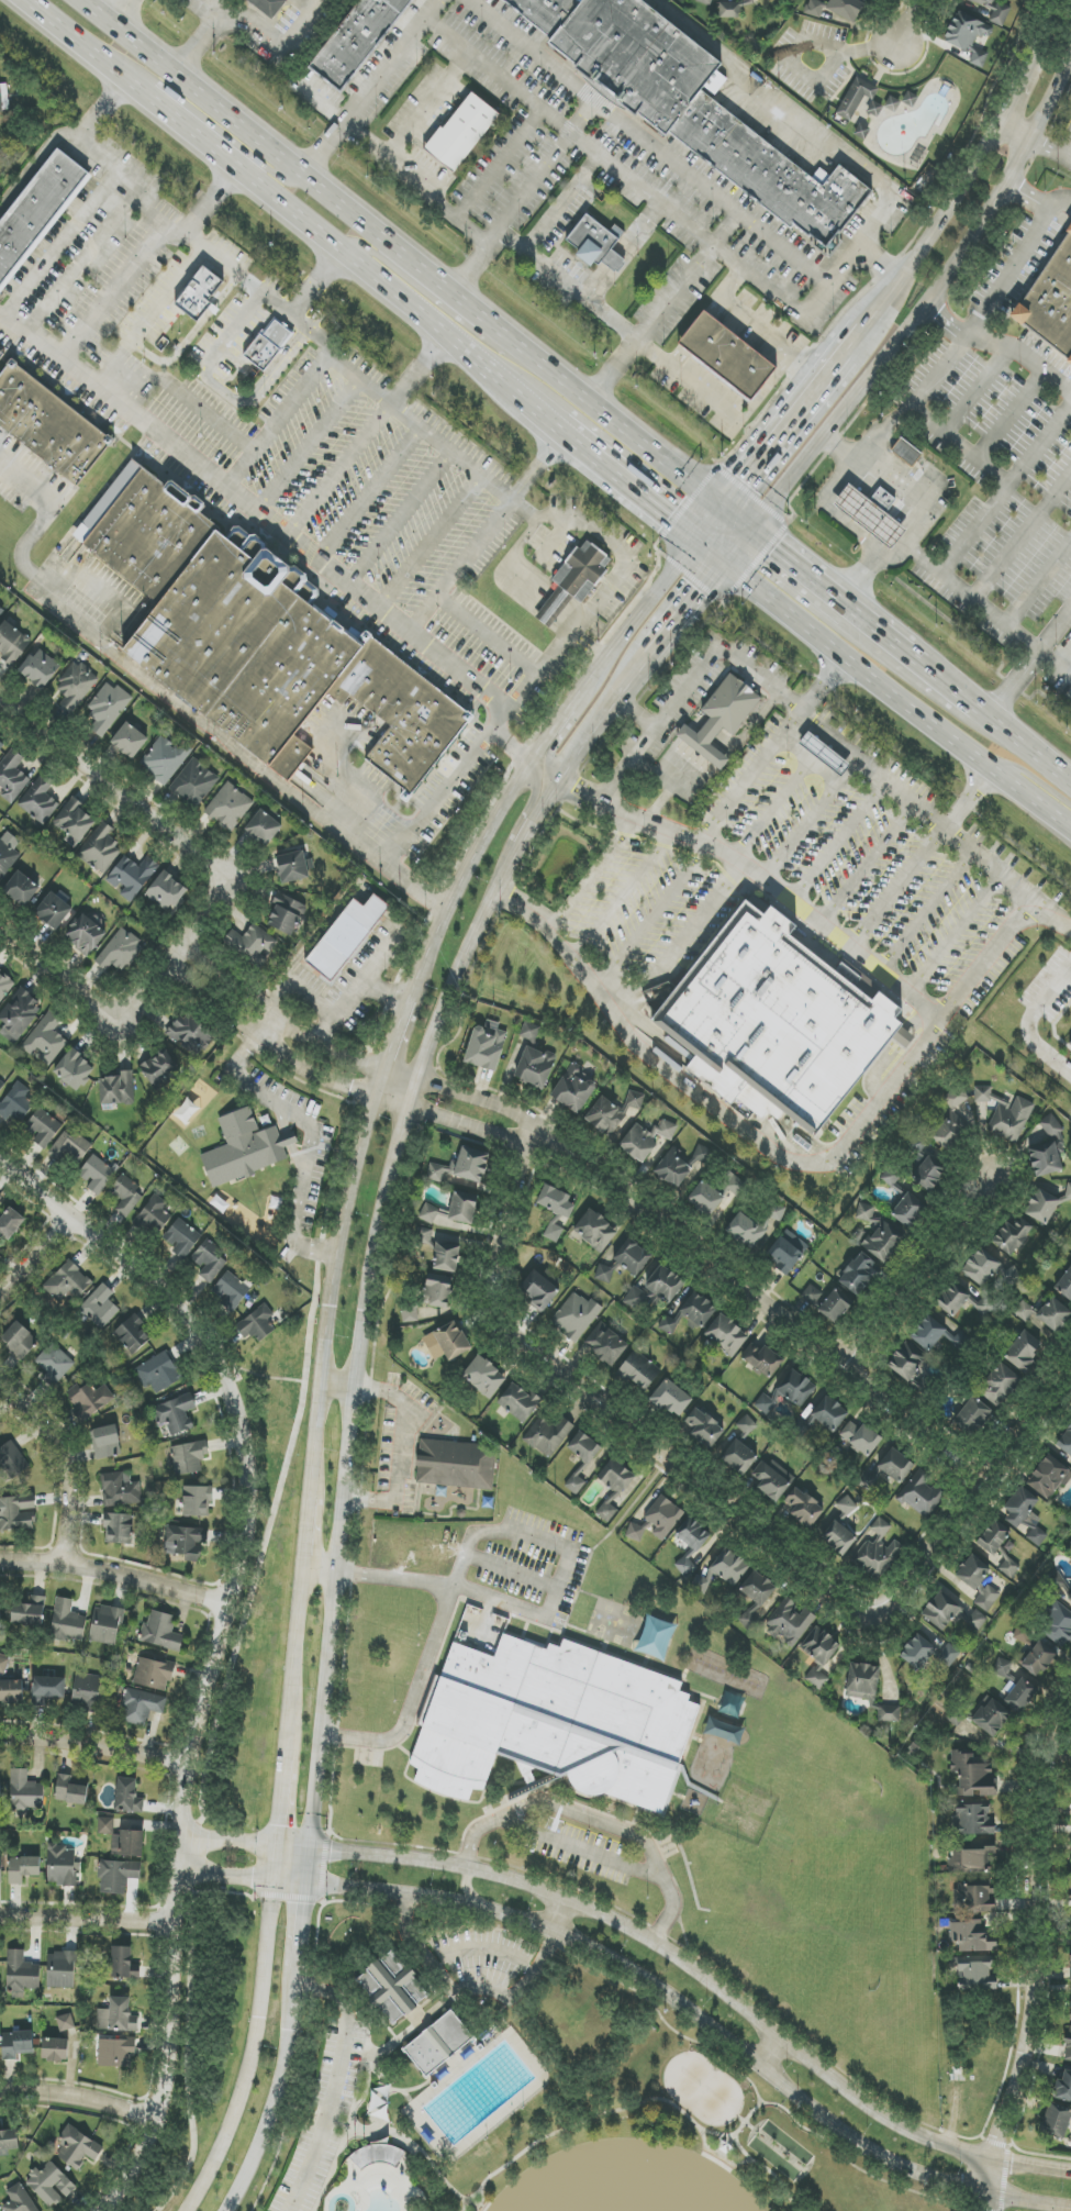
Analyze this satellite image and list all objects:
building: (704, 2)
road: (221, 5)
building: (271, 7)
building: (733, 8)
building: (814, 8)
building: (847, 9)
building: (994, 11)
road: (125, 13)
road: (246, 24)
road: (904, 25)
building: (964, 31)
road: (1053, 31)
building: (359, 40)
road: (802, 43)
road: (83, 47)
building: (979, 58)
road: (370, 87)
road: (1024, 93)
building: (857, 97)
building: (4, 98)
building: (891, 102)
road: (427, 107)
building: (692, 107)
road: (582, 115)
road: (179, 123)
road: (819, 132)
building: (862, 132)
building: (464, 133)
road: (250, 134)
road: (1022, 134)
road: (648, 142)
building: (0, 143)
road: (584, 143)
road: (1057, 151)
road: (1068, 155)
road: (500, 164)
road: (260, 168)
road: (533, 189)
road: (96, 196)
road: (153, 198)
road: (1061, 201)
road: (439, 203)
road: (562, 203)
building: (38, 215)
road: (726, 229)
road: (642, 231)
road: (939, 231)
road: (331, 242)
building: (594, 243)
road: (1022, 252)
road: (379, 256)
road: (241, 269)
road: (743, 271)
road: (566, 284)
road: (118, 285)
road: (599, 285)
road: (453, 293)
road: (677, 293)
building: (200, 295)
building: (1050, 300)
road: (925, 313)
road: (149, 314)
road: (192, 335)
road: (1003, 345)
building: (268, 348)
building: (726, 351)
building: (1, 356)
road: (477, 360)
road: (692, 387)
road: (222, 390)
road: (974, 390)
road: (375, 391)
road: (113, 402)
road: (534, 409)
road: (605, 413)
road: (902, 413)
road: (1008, 415)
road: (795, 421)
building: (49, 427)
road: (1039, 445)
building: (907, 454)
road: (338, 470)
road: (483, 480)
road: (1002, 481)
traffic signals: (745, 482)
road: (628, 487)
road: (942, 500)
road: (247, 504)
building: (852, 504)
gas station: (852, 504)
building: (875, 513)
road: (1037, 518)
traffic signals: (668, 519)
road: (738, 520)
road: (711, 525)
building: (147, 530)
road: (854, 530)
building: (890, 534)
gas station: (890, 534)
road: (1022, 535)
road: (739, 548)
traffic signals: (774, 548)
road: (713, 554)
road: (803, 570)
building: (578, 577)
road: (1038, 581)
road: (606, 591)
traffic signals: (703, 598)
building: (1, 611)
road: (424, 613)
road: (682, 623)
road: (1006, 625)
road: (1055, 629)
road: (886, 637)
building: (12, 643)
road: (589, 646)
road: (1062, 653)
road: (1053, 663)
building: (286, 666)
building: (40, 668)
building: (76, 686)
road: (952, 690)
road: (896, 699)
road: (177, 702)
building: (730, 703)
building: (107, 708)
road: (817, 726)
building: (129, 741)
building: (704, 743)
road: (558, 744)
building: (1, 745)
road: (1028, 749)
road: (769, 751)
road: (536, 755)
building: (824, 755)
gas station: (824, 755)
building: (165, 759)
road: (807, 763)
building: (11, 776)
road: (456, 776)
road: (1033, 779)
building: (194, 782)
building: (40, 799)
building: (228, 807)
road: (153, 810)
road: (526, 812)
road: (772, 813)
building: (74, 822)
building: (264, 827)
road: (799, 832)
road: (837, 842)
building: (100, 849)
building: (8, 853)
road: (921, 859)
road: (867, 865)
building: (291, 867)
road: (595, 876)
building: (131, 877)
road: (762, 880)
building: (21, 889)
building: (166, 892)
road: (622, 897)
building: (53, 911)
building: (287, 915)
road: (650, 920)
building: (86, 935)
building: (346, 936)
building: (253, 944)
road: (681, 944)
building: (120, 951)
road: (380, 958)
road: (362, 984)
building: (4, 986)
road: (303, 988)
road: (231, 995)
road: (101, 1003)
building: (19, 1014)
building: (783, 1020)
road: (1028, 1023)
building: (529, 1031)
building: (190, 1032)
building: (46, 1038)
building: (903, 1038)
road: (393, 1043)
building: (1070, 1045)
building: (486, 1046)
building: (535, 1067)
building: (74, 1069)
building: (160, 1070)
road: (411, 1074)
building: (1, 1085)
building: (574, 1089)
road: (395, 1102)
building: (15, 1103)
building: (612, 1112)
building: (1005, 1113)
road: (281, 1116)
building: (951, 1121)
building: (1051, 1125)
building: (43, 1127)
road: (311, 1133)
road: (289, 1138)
building: (646, 1138)
building: (1058, 1143)
building: (69, 1148)
building: (245, 1148)
road: (774, 1155)
building: (1045, 1159)
road: (298, 1162)
building: (681, 1165)
building: (460, 1167)
building: (927, 1170)
building: (97, 1174)
building: (891, 1178)
building: (734, 1184)
building: (1068, 1191)
building: (124, 1196)
building: (0, 1198)
building: (705, 1199)
building: (1041, 1207)
building: (462, 1208)
building: (908, 1210)
building: (556, 1211)
building: (428, 1213)
building: (773, 1213)
building: (154, 1215)
building: (10, 1223)
building: (595, 1231)
building: (746, 1231)
road: (376, 1234)
building: (879, 1234)
building: (1012, 1235)
building: (424, 1236)
building: (182, 1238)
road: (35, 1252)
building: (785, 1252)
building: (446, 1257)
building: (632, 1257)
building: (208, 1262)
building: (981, 1267)
building: (604, 1274)
building: (859, 1274)
road: (936, 1277)
building: (68, 1282)
building: (1066, 1284)
building: (540, 1287)
road: (331, 1289)
building: (655, 1289)
building: (230, 1290)
building: (438, 1291)
building: (813, 1296)
building: (952, 1298)
building: (836, 1304)
building: (100, 1307)
road: (771, 1308)
building: (698, 1310)
building: (1023, 1311)
building: (410, 1313)
building: (576, 1315)
building: (1055, 1315)
building: (669, 1321)
building: (257, 1324)
building: (132, 1333)
building: (928, 1333)
building: (726, 1335)
building: (20, 1341)
building: (447, 1342)
building: (960, 1342)
building: (605, 1344)
building: (1025, 1351)
building: (762, 1359)
building: (905, 1363)
building: (54, 1364)
building: (638, 1371)
building: (158, 1374)
building: (483, 1377)
building: (999, 1384)
road: (338, 1385)
building: (795, 1388)
building: (671, 1399)
building: (89, 1400)
building: (518, 1402)
building: (175, 1414)
building: (827, 1414)
building: (972, 1416)
building: (746, 1425)
building: (704, 1427)
building: (548, 1435)
road: (639, 1438)
building: (861, 1438)
building: (1066, 1441)
building: (105, 1442)
building: (584, 1447)
road: (401, 1452)
building: (188, 1457)
building: (738, 1457)
building: (11, 1460)
road: (64, 1463)
building: (456, 1464)
building: (888, 1469)
building: (1049, 1477)
building: (771, 1482)
building: (613, 1487)
building: (120, 1489)
building: (921, 1495)
road: (991, 1498)
building: (197, 1500)
building: (846, 1506)
building: (804, 1508)
building: (16, 1513)
building: (1025, 1515)
building: (663, 1516)
building: (119, 1529)
road: (306, 1530)
building: (635, 1532)
building: (693, 1534)
building: (838, 1537)
building: (993, 1537)
building: (185, 1542)
building: (879, 1551)
road: (571, 1557)
building: (687, 1564)
building: (729, 1567)
building: (1008, 1567)
road: (115, 1573)
road: (320, 1573)
building: (979, 1581)
building: (700, 1585)
building: (759, 1588)
building: (1062, 1591)
building: (30, 1611)
building: (950, 1611)
building: (0, 1612)
building: (67, 1620)
building: (790, 1621)
building: (1058, 1623)
building: (105, 1625)
building: (161, 1631)
road: (434, 1642)
road: (217, 1644)
building: (819, 1646)
building: (918, 1651)
building: (1035, 1653)
building: (948, 1655)
building: (3, 1665)
building: (1002, 1667)
road: (293, 1668)
building: (154, 1674)
building: (817, 1678)
building: (862, 1681)
building: (48, 1689)
building: (11, 1691)
building: (89, 1691)
building: (1019, 1693)
building: (141, 1707)
building: (889, 1713)
building: (991, 1716)
building: (555, 1722)
road: (93, 1746)
building: (972, 1774)
building: (0, 1787)
building: (69, 1790)
building: (25, 1792)
building: (127, 1797)
building: (748, 1801)
building: (973, 1820)
road: (593, 1821)
building: (738, 1822)
road: (278, 1823)
building: (105, 1825)
traffic signals: (278, 1825)
road: (227, 1841)
building: (127, 1844)
road: (292, 1847)
traffic signals: (332, 1852)
building: (970, 1858)
building: (60, 1865)
building: (23, 1868)
building: (0, 1870)
building: (118, 1876)
road: (224, 1876)
traffic signals: (252, 1879)
building: (1070, 1885)
road: (467, 1890)
road: (298, 1898)
building: (974, 1898)
traffic signals: (305, 1904)
road: (557, 1913)
road: (85, 1918)
road: (303, 1921)
building: (970, 1936)
building: (122, 1963)
road: (1030, 1964)
building: (1070, 1967)
building: (60, 1969)
building: (975, 1974)
building: (21, 1975)
road: (703, 1979)
building: (392, 1987)
road: (464, 1990)
road: (687, 2009)
road: (359, 2010)
building: (1070, 2011)
building: (116, 2016)
road: (309, 2020)
building: (65, 2022)
building: (438, 2043)
building: (16, 2044)
building: (1068, 2046)
building: (55, 2049)
road: (250, 2052)
building: (116, 2053)
road: (771, 2054)
road: (338, 2085)
road: (754, 2086)
building: (1062, 2087)
park: (703, 2089)
road: (78, 2097)
road: (274, 2106)
road: (350, 2111)
road: (589, 2119)
road: (748, 2119)
building: (1056, 2121)
road: (337, 2123)
road: (747, 2124)
building: (9, 2140)
building: (77, 2148)
road: (768, 2170)
building: (51, 2185)
building: (19, 2200)
road: (972, 2210)

